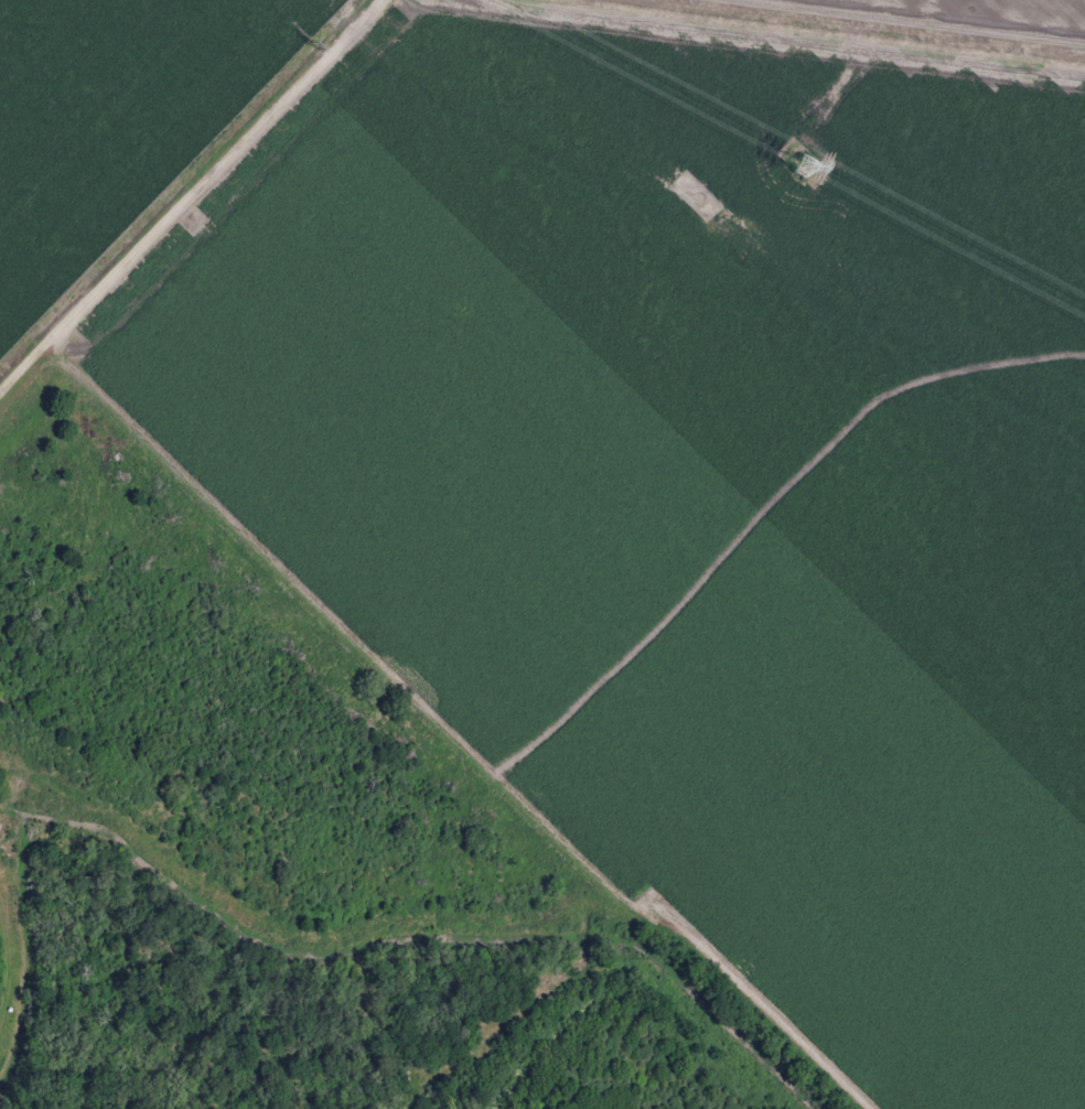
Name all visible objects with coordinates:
power tower: (330, 63)
power tower: (803, 165)

